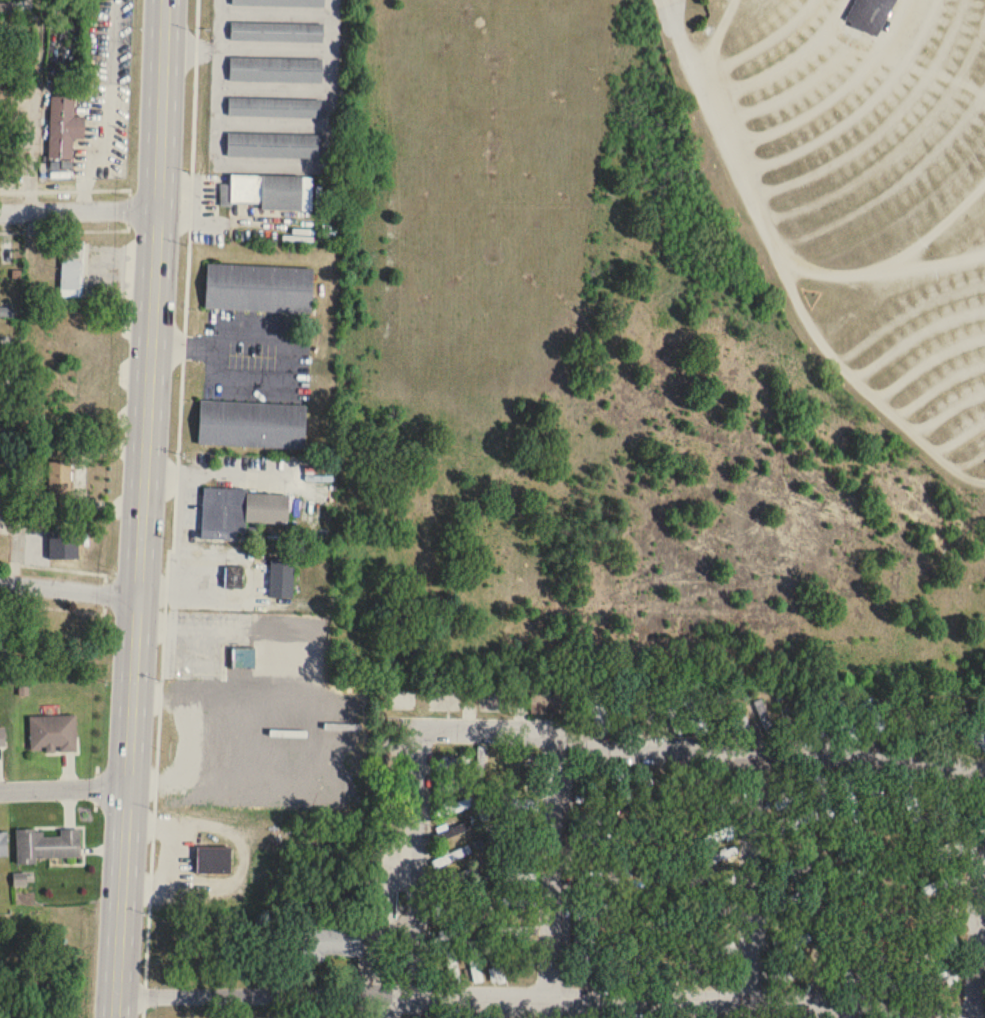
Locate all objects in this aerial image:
building: (281, 1)
building: (667, 2)
building: (869, 16)
building: (275, 26)
road: (718, 38)
road: (760, 44)
road: (270, 48)
road: (784, 59)
road: (907, 63)
building: (274, 66)
road: (832, 91)
building: (272, 104)
parking lot: (854, 123)
building: (63, 129)
building: (272, 142)
road: (892, 188)
building: (269, 193)
road: (128, 206)
road: (79, 208)
road: (894, 260)
road: (931, 263)
building: (71, 270)
road: (786, 271)
building: (257, 285)
parking lot: (930, 364)
road: (275, 373)
building: (250, 422)
road: (221, 474)
road: (70, 484)
building: (5, 485)
building: (59, 486)
road: (141, 509)
road: (174, 511)
building: (240, 511)
road: (178, 532)
building: (63, 544)
road: (72, 568)
building: (281, 577)
road: (68, 587)
road: (195, 590)
road: (51, 605)
building: (6, 634)
building: (243, 658)
building: (546, 703)
building: (598, 713)
building: (696, 715)
building: (764, 717)
building: (786, 719)
building: (815, 719)
building: (845, 720)
building: (876, 720)
building: (909, 722)
building: (941, 728)
building: (51, 730)
building: (1, 734)
road: (197, 734)
road: (706, 754)
building: (480, 762)
building: (499, 762)
building: (452, 763)
building: (582, 777)
building: (524, 783)
road: (63, 786)
building: (451, 786)
building: (622, 786)
building: (645, 787)
building: (824, 795)
building: (874, 795)
building: (850, 799)
building: (790, 800)
building: (912, 802)
building: (520, 804)
building: (728, 806)
building: (452, 807)
building: (946, 807)
building: (594, 820)
building: (455, 832)
building: (720, 835)
building: (527, 836)
building: (597, 839)
building: (2, 841)
building: (48, 845)
road: (168, 852)
building: (940, 854)
building: (451, 857)
road: (240, 859)
building: (592, 859)
building: (214, 861)
building: (791, 873)
road: (423, 878)
building: (699, 878)
building: (521, 879)
road: (559, 880)
road: (762, 881)
building: (599, 882)
building: (941, 885)
building: (719, 888)
building: (788, 901)
building: (723, 910)
building: (598, 911)
building: (446, 912)
building: (521, 932)
building: (448, 934)
building: (333, 943)
building: (790, 945)
building: (935, 951)
building: (593, 958)
building: (474, 964)
building: (452, 967)
building: (885, 969)
building: (669, 970)
building: (694, 972)
building: (791, 973)
building: (623, 978)
building: (937, 981)
road: (510, 1001)
building: (468, 1017)

